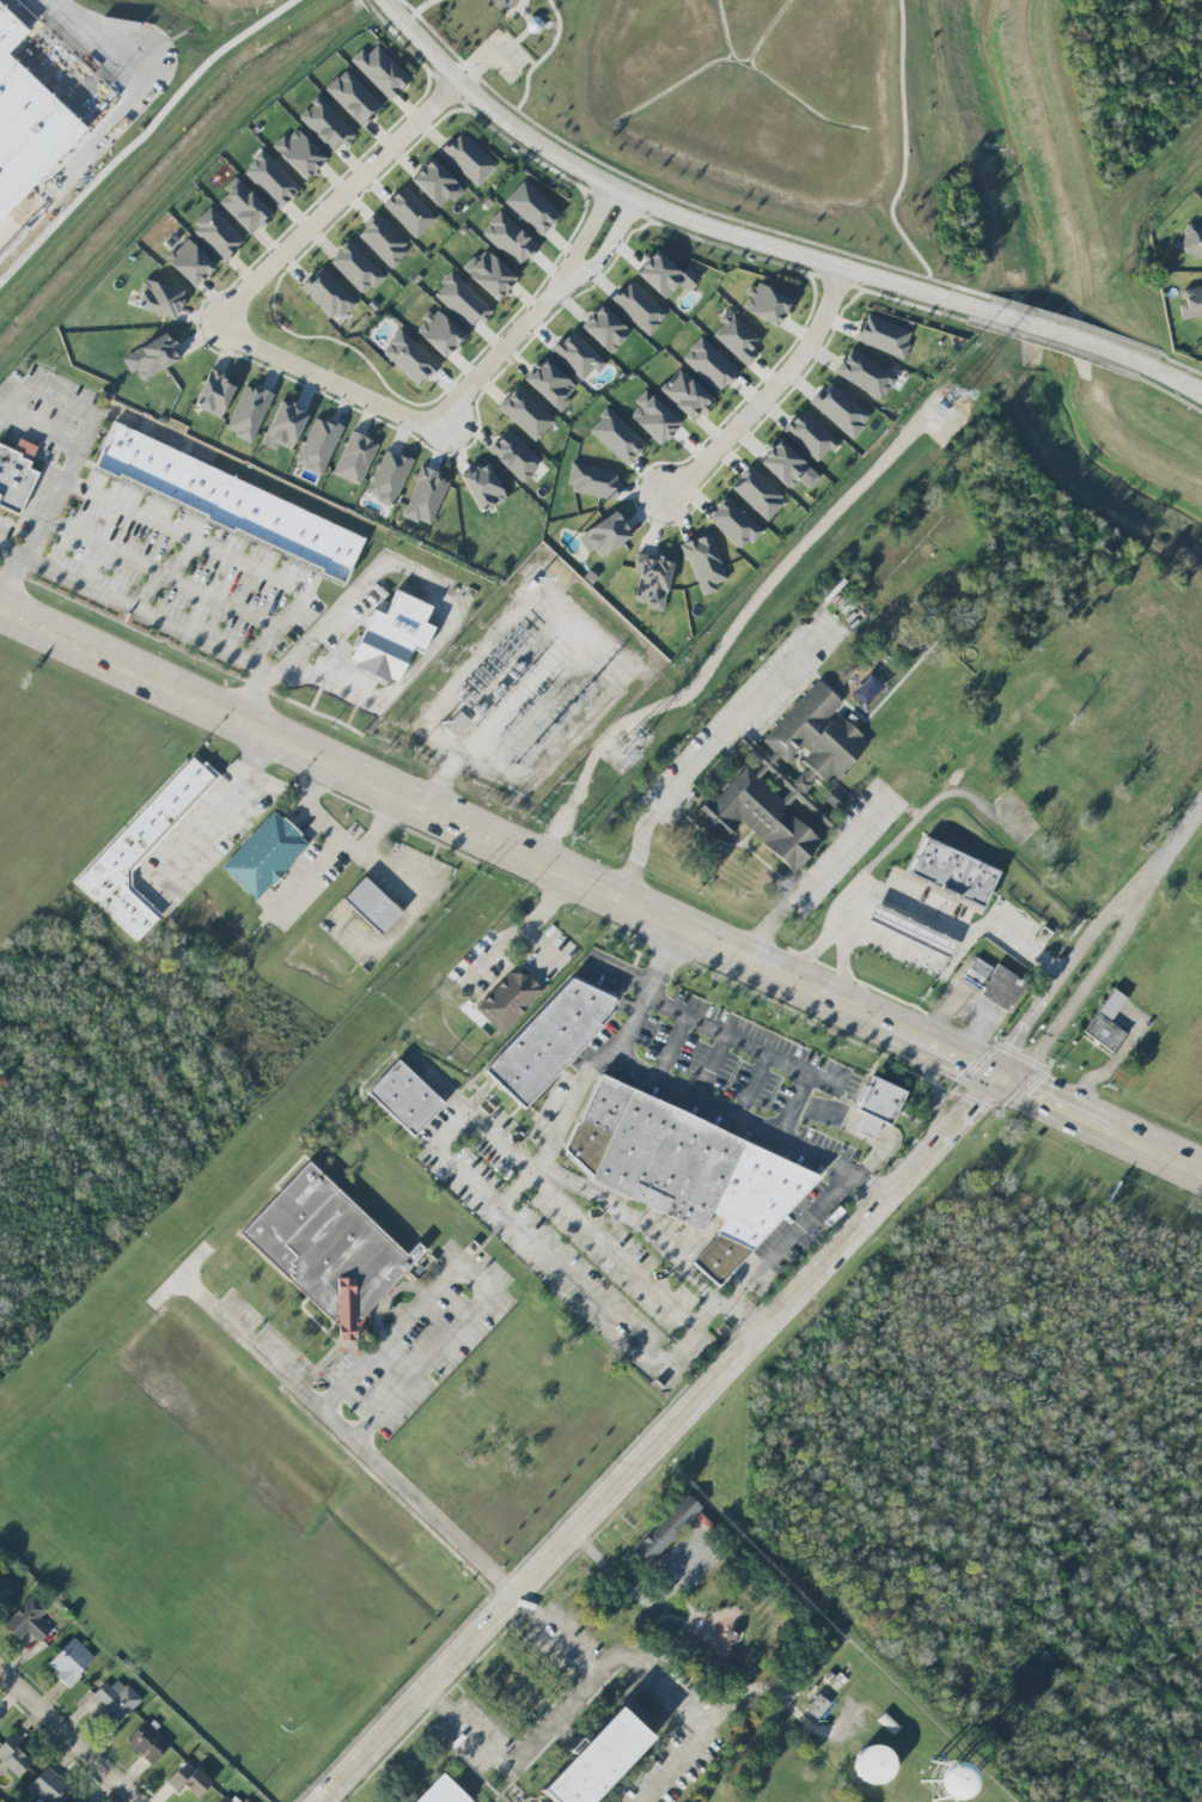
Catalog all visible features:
road: (417, 11)
road: (532, 25)
road: (511, 39)
park: (515, 48)
road: (488, 55)
road: (538, 60)
building: (380, 71)
building: (353, 98)
road: (112, 117)
building: (26, 122)
building: (325, 124)
road: (142, 135)
building: (299, 153)
road: (903, 153)
building: (468, 158)
building: (270, 179)
building: (437, 183)
road: (343, 195)
building: (244, 206)
building: (532, 207)
road: (654, 207)
building: (409, 212)
road: (588, 227)
building: (216, 233)
building: (508, 239)
building: (1191, 241)
building: (384, 242)
road: (610, 242)
building: (190, 263)
building: (356, 268)
building: (489, 274)
building: (665, 275)
building: (328, 294)
building: (159, 299)
building: (462, 300)
building: (1191, 303)
building: (765, 304)
building: (639, 308)
building: (605, 329)
building: (440, 333)
road: (1067, 335)
building: (884, 336)
building: (737, 337)
road: (506, 347)
building: (578, 355)
building: (152, 357)
building: (409, 358)
building: (709, 365)
building: (865, 375)
road: (325, 379)
road: (1176, 379)
building: (550, 384)
building: (215, 394)
road: (769, 394)
power tower: (958, 394)
building: (685, 396)
building: (840, 409)
building: (248, 413)
building: (525, 413)
road: (97, 416)
building: (654, 418)
building: (283, 427)
road: (39, 431)
building: (810, 436)
building: (616, 437)
building: (318, 445)
building: (355, 457)
building: (514, 457)
building: (787, 467)
building: (16, 475)
building: (389, 477)
building: (592, 480)
building: (482, 487)
road: (59, 488)
building: (758, 494)
building: (425, 497)
building: (227, 503)
building: (734, 524)
building: (605, 535)
road: (224, 556)
building: (704, 564)
road: (159, 576)
road: (161, 576)
building: (652, 580)
road: (13, 585)
road: (454, 601)
road: (142, 615)
building: (392, 637)
power substation: (524, 682)
road: (252, 696)
building: (458, 726)
power tower: (621, 754)
road: (704, 755)
building: (745, 778)
road: (222, 812)
road: (336, 836)
building: (139, 852)
building: (264, 857)
road: (1161, 860)
road: (813, 872)
building: (1096, 872)
building: (954, 873)
road: (600, 891)
building: (373, 907)
road: (942, 924)
building: (913, 932)
road: (517, 935)
road: (542, 950)
road: (911, 952)
road: (809, 956)
road: (840, 969)
road: (621, 970)
building: (976, 974)
building: (1002, 987)
road: (1050, 988)
road: (647, 993)
building: (510, 1002)
road: (1072, 1005)
building: (1106, 1022)
building: (549, 1040)
road: (742, 1042)
road: (670, 1047)
road: (710, 1066)
traffic signals: (997, 1080)
road: (751, 1085)
road: (933, 1096)
building: (407, 1098)
road: (791, 1106)
building: (878, 1106)
road: (752, 1125)
road: (555, 1132)
building: (687, 1173)
road: (554, 1195)
road: (639, 1224)
road: (521, 1240)
building: (330, 1249)
road: (755, 1272)
road: (480, 1276)
road: (743, 1315)
road: (658, 1439)
road: (355, 1447)
building: (667, 1529)
building: (4, 1591)
road: (635, 1594)
building: (28, 1620)
road: (555, 1634)
building: (71, 1662)
road: (598, 1672)
building: (116, 1703)
building: (817, 1706)
building: (0, 1723)
road: (67, 1737)
building: (147, 1742)
building: (13, 1755)
building: (618, 1764)
building: (874, 1765)
building: (189, 1779)
building: (50, 1786)
building: (441, 1792)
building: (224, 1800)
building: (246, 1801)

